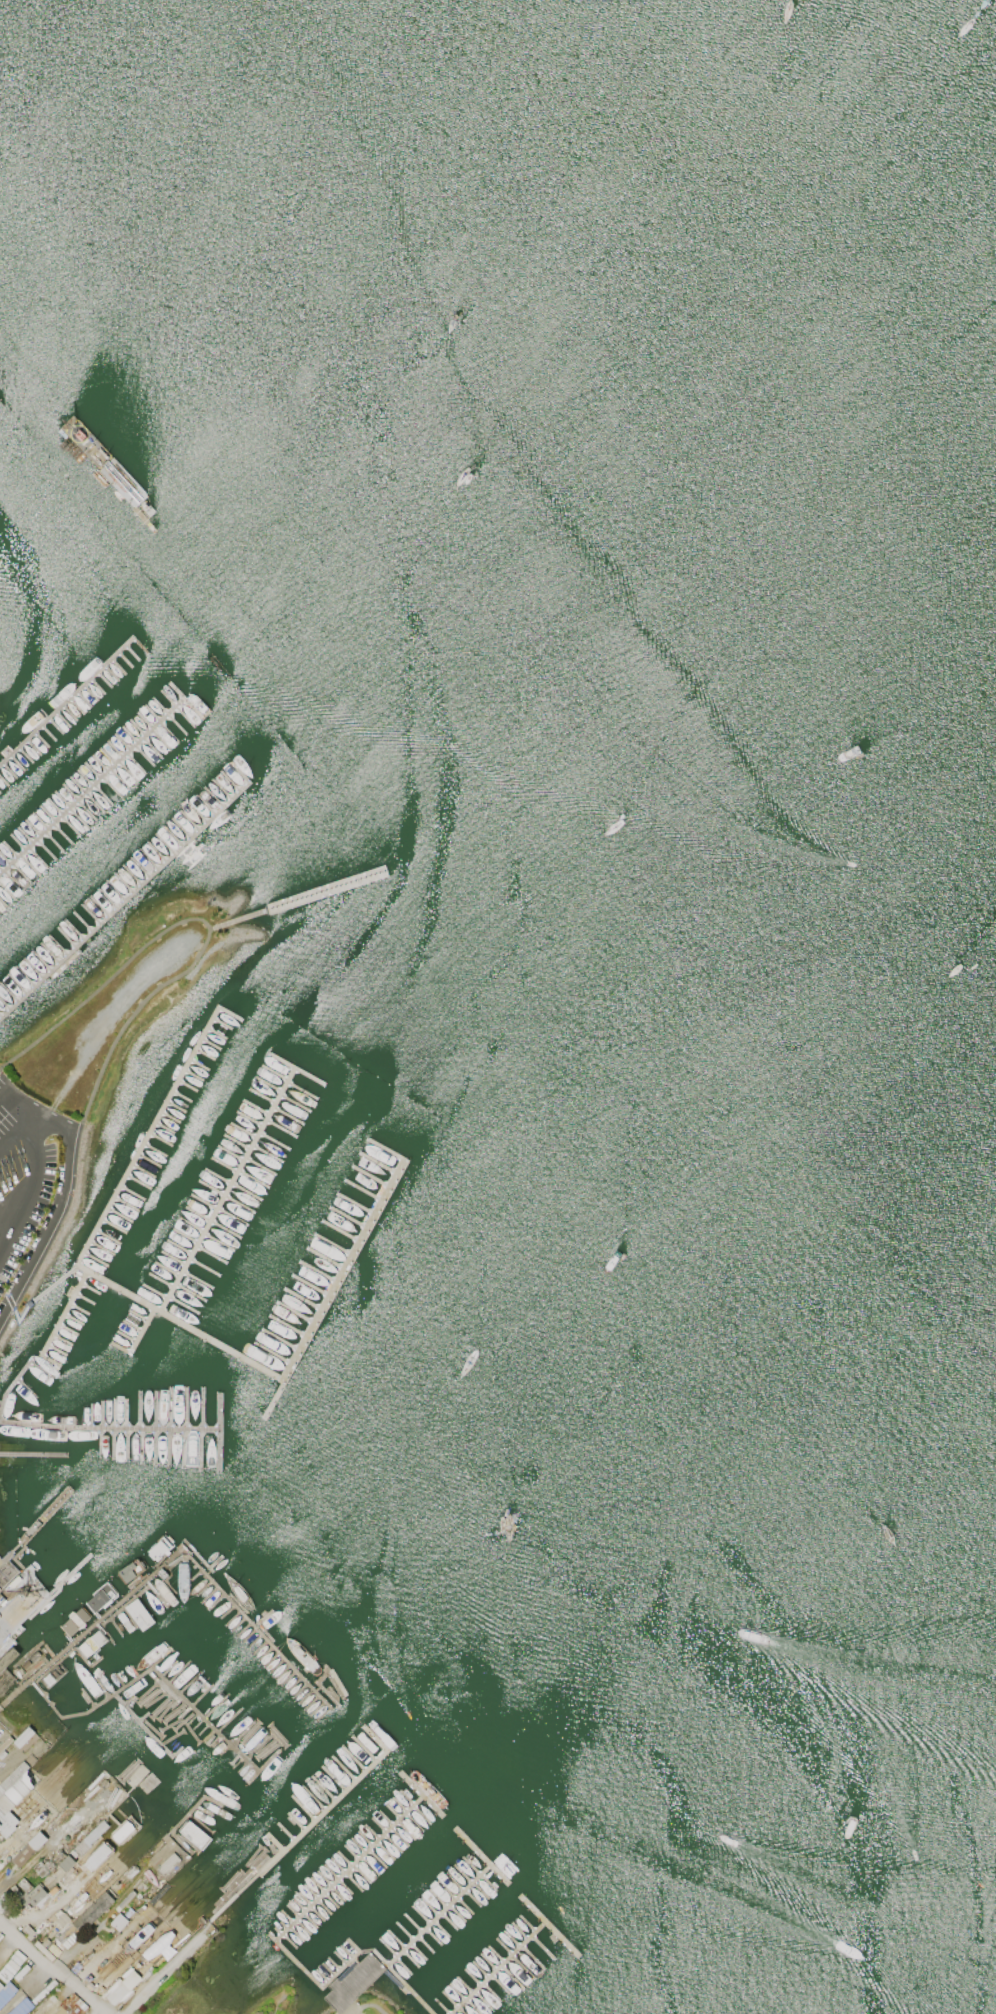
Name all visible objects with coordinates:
pier: (65, 701)
pier: (95, 786)
pier: (128, 899)
pier: (306, 899)
road: (10, 1105)
pier: (148, 1138)
road: (31, 1162)
parking lot: (30, 1182)
pier: (226, 1191)
road: (5, 1216)
pier: (336, 1287)
pier: (154, 1310)
pier: (63, 1314)
pier: (140, 1331)
pier: (10, 1386)
pier: (109, 1424)
pier: (34, 1456)
pier: (44, 1519)
pier: (186, 1548)
pier: (69, 1574)
pier: (149, 1668)
pier: (142, 1724)
parking lot: (2, 1729)
building: (22, 1736)
parking lot: (0, 1762)
pier: (421, 1794)
pier: (308, 1825)
building: (122, 1830)
building: (93, 1833)
building: (28, 1848)
pier: (484, 1859)
building: (66, 1862)
building: (37, 1896)
pier: (322, 1898)
building: (92, 1911)
pier: (438, 1917)
building: (118, 1921)
pier: (549, 1926)
road: (52, 1963)
pier: (499, 1968)
road: (159, 1973)
building: (121, 1986)
building: (6, 1991)
pier: (412, 1992)
building: (71, 2005)
road: (374, 2005)
building: (20, 2006)
road: (355, 2009)

